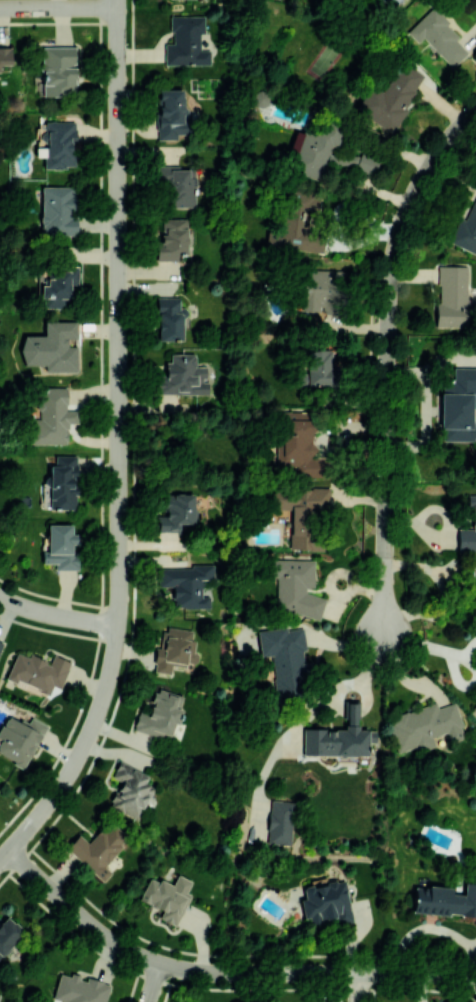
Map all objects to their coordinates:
building: (400, 0)
road: (58, 7)
building: (438, 36)
building: (186, 41)
building: (5, 56)
building: (58, 70)
building: (391, 97)
building: (171, 114)
building: (59, 144)
building: (328, 153)
building: (178, 185)
building: (58, 211)
building: (299, 225)
building: (465, 229)
building: (172, 239)
building: (320, 288)
building: (451, 296)
road: (118, 313)
building: (170, 319)
building: (51, 347)
road: (386, 356)
building: (318, 368)
building: (183, 376)
building: (459, 405)
road: (426, 409)
building: (52, 417)
building: (298, 444)
building: (62, 482)
building: (177, 513)
building: (302, 513)
building: (468, 529)
building: (61, 547)
building: (186, 584)
building: (296, 587)
building: (473, 587)
road: (57, 616)
building: (0, 645)
road: (431, 647)
building: (174, 649)
building: (285, 659)
building: (38, 671)
building: (159, 715)
building: (424, 726)
building: (339, 737)
building: (19, 738)
road: (79, 754)
building: (128, 790)
building: (280, 822)
building: (97, 849)
building: (167, 897)
building: (445, 900)
building: (326, 902)
road: (436, 928)
building: (8, 933)
road: (222, 973)
road: (153, 983)
road: (358, 987)
building: (80, 989)

